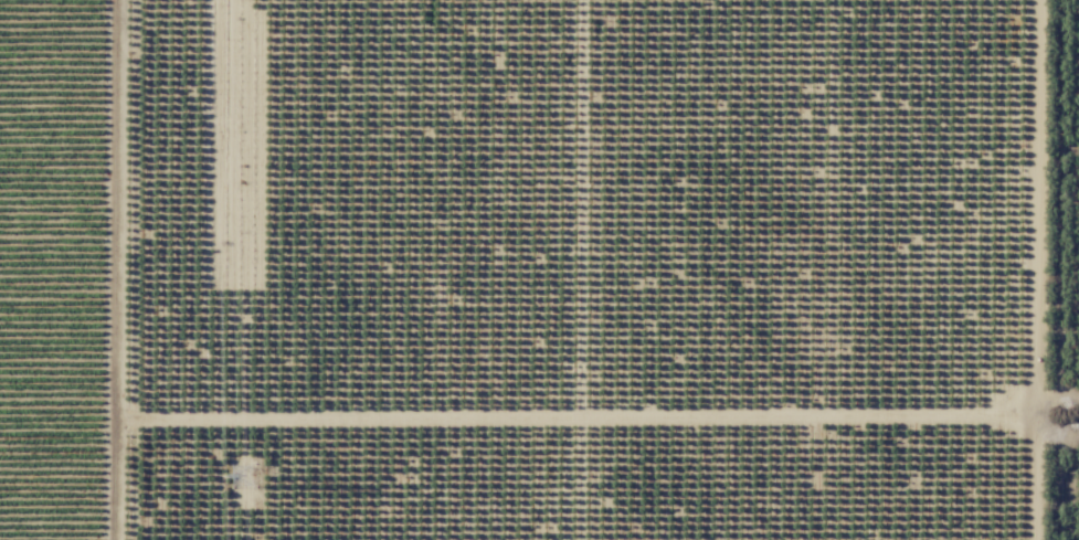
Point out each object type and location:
power tower: (245, 475)

